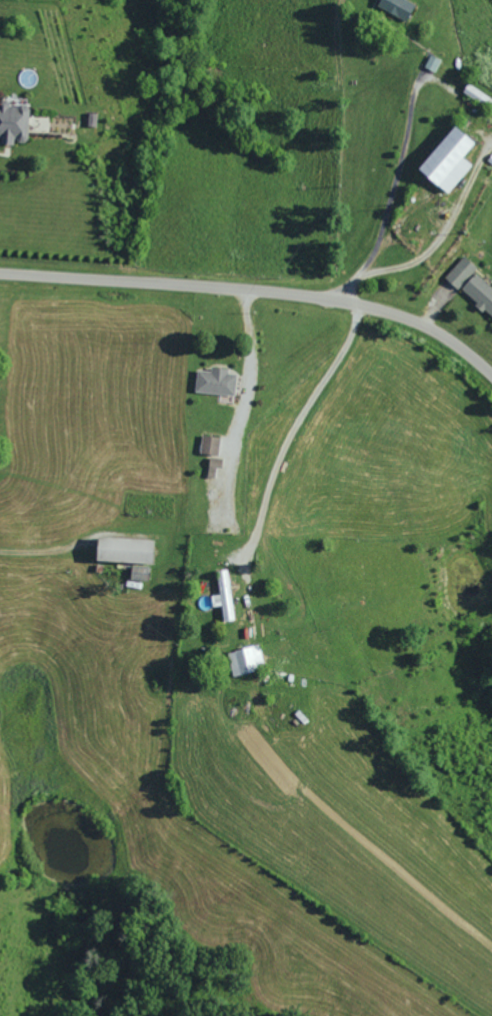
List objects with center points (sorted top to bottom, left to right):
building: (394, 8)
building: (431, 63)
building: (12, 123)
building: (446, 158)
building: (490, 158)
building: (459, 271)
road: (256, 288)
building: (479, 291)
building: (214, 380)
building: (208, 444)
building: (212, 466)
building: (121, 548)
building: (137, 572)
building: (223, 595)
building: (244, 658)

